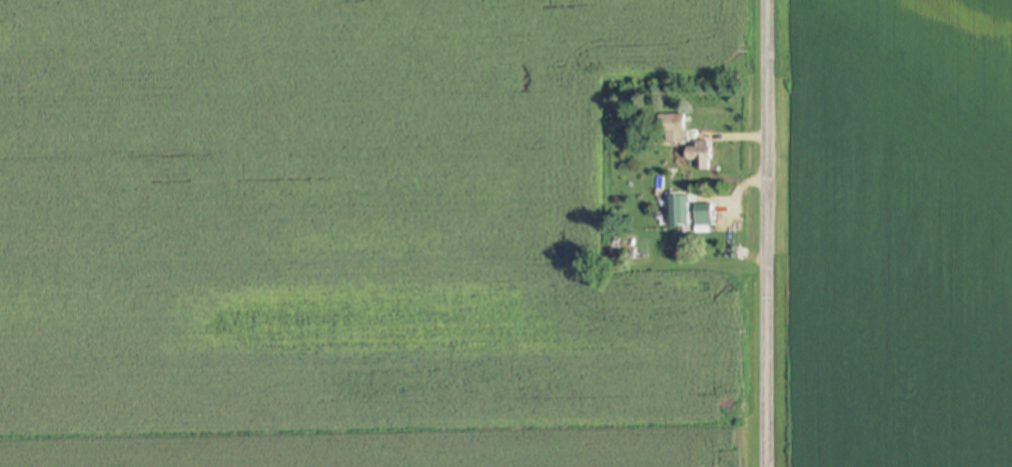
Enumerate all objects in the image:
building: (672, 128)
building: (700, 155)
building: (703, 214)
road: (769, 233)

